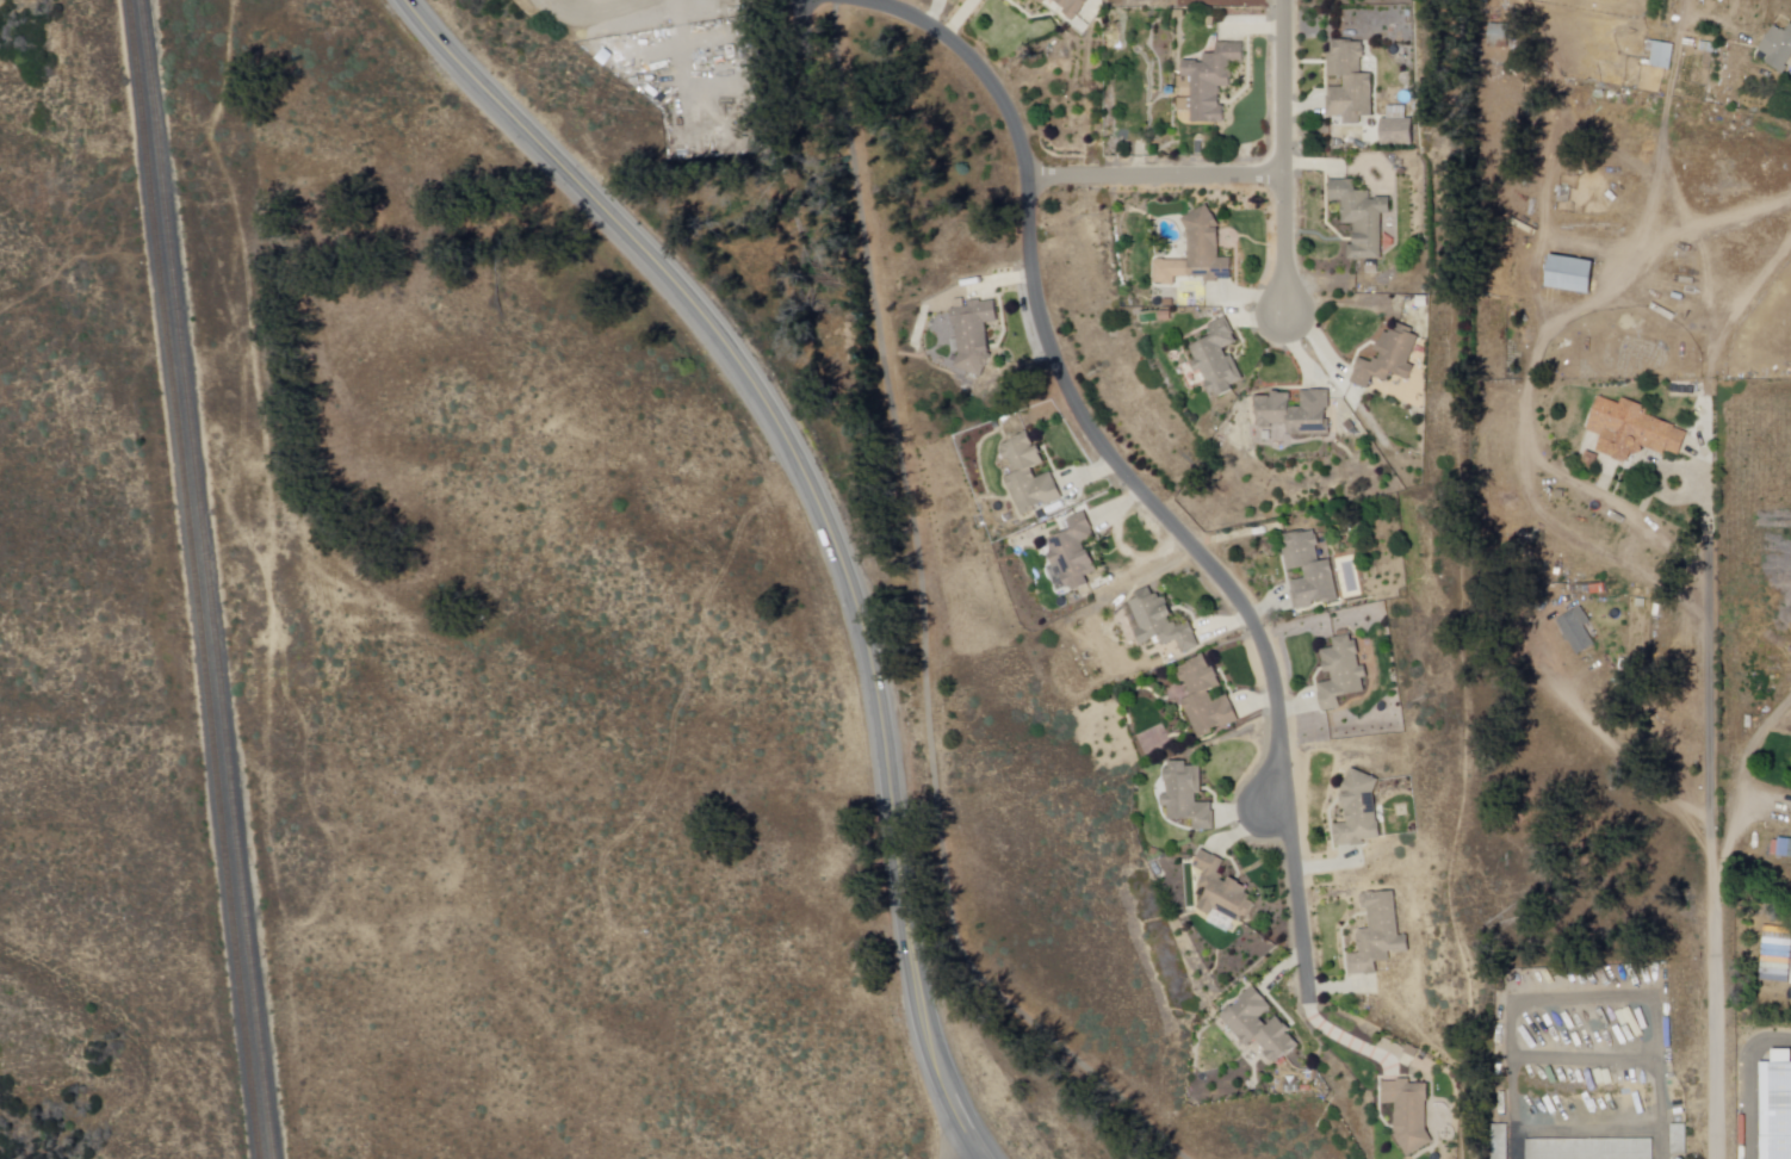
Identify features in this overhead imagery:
building: (1011, 0)
building: (1036, 1)
building: (1045, 1)
building: (1077, 7)
building: (1179, 12)
building: (1209, 19)
building: (1498, 38)
building: (1779, 47)
building: (1662, 55)
building: (1217, 80)
building: (1347, 80)
building: (1396, 129)
building: (1198, 145)
road: (1288, 156)
road: (1157, 174)
building: (1359, 217)
building: (1197, 253)
building: (1370, 268)
building: (1570, 272)
building: (1423, 299)
building: (1167, 300)
building: (1165, 315)
building: (977, 336)
building: (1388, 358)
building: (1221, 361)
building: (1287, 420)
building: (1349, 424)
building: (1631, 432)
park: (18, 459)
road: (1128, 471)
building: (1031, 475)
road: (819, 514)
building: (1076, 556)
building: (1308, 572)
railway: (210, 578)
railway: (193, 579)
building: (1692, 608)
building: (1163, 624)
building: (1578, 631)
building: (1340, 675)
building: (1209, 698)
road: (1619, 751)
building: (1190, 798)
road: (1711, 805)
building: (1356, 812)
road: (1733, 837)
building: (1226, 893)
building: (1377, 937)
building: (1770, 973)
building: (1264, 1027)
building: (1411, 1050)
building: (1290, 1089)
building: (1775, 1108)
building: (1414, 1114)
building: (1499, 1142)
building: (1591, 1149)
road: (974, 1155)
road: (979, 1155)

